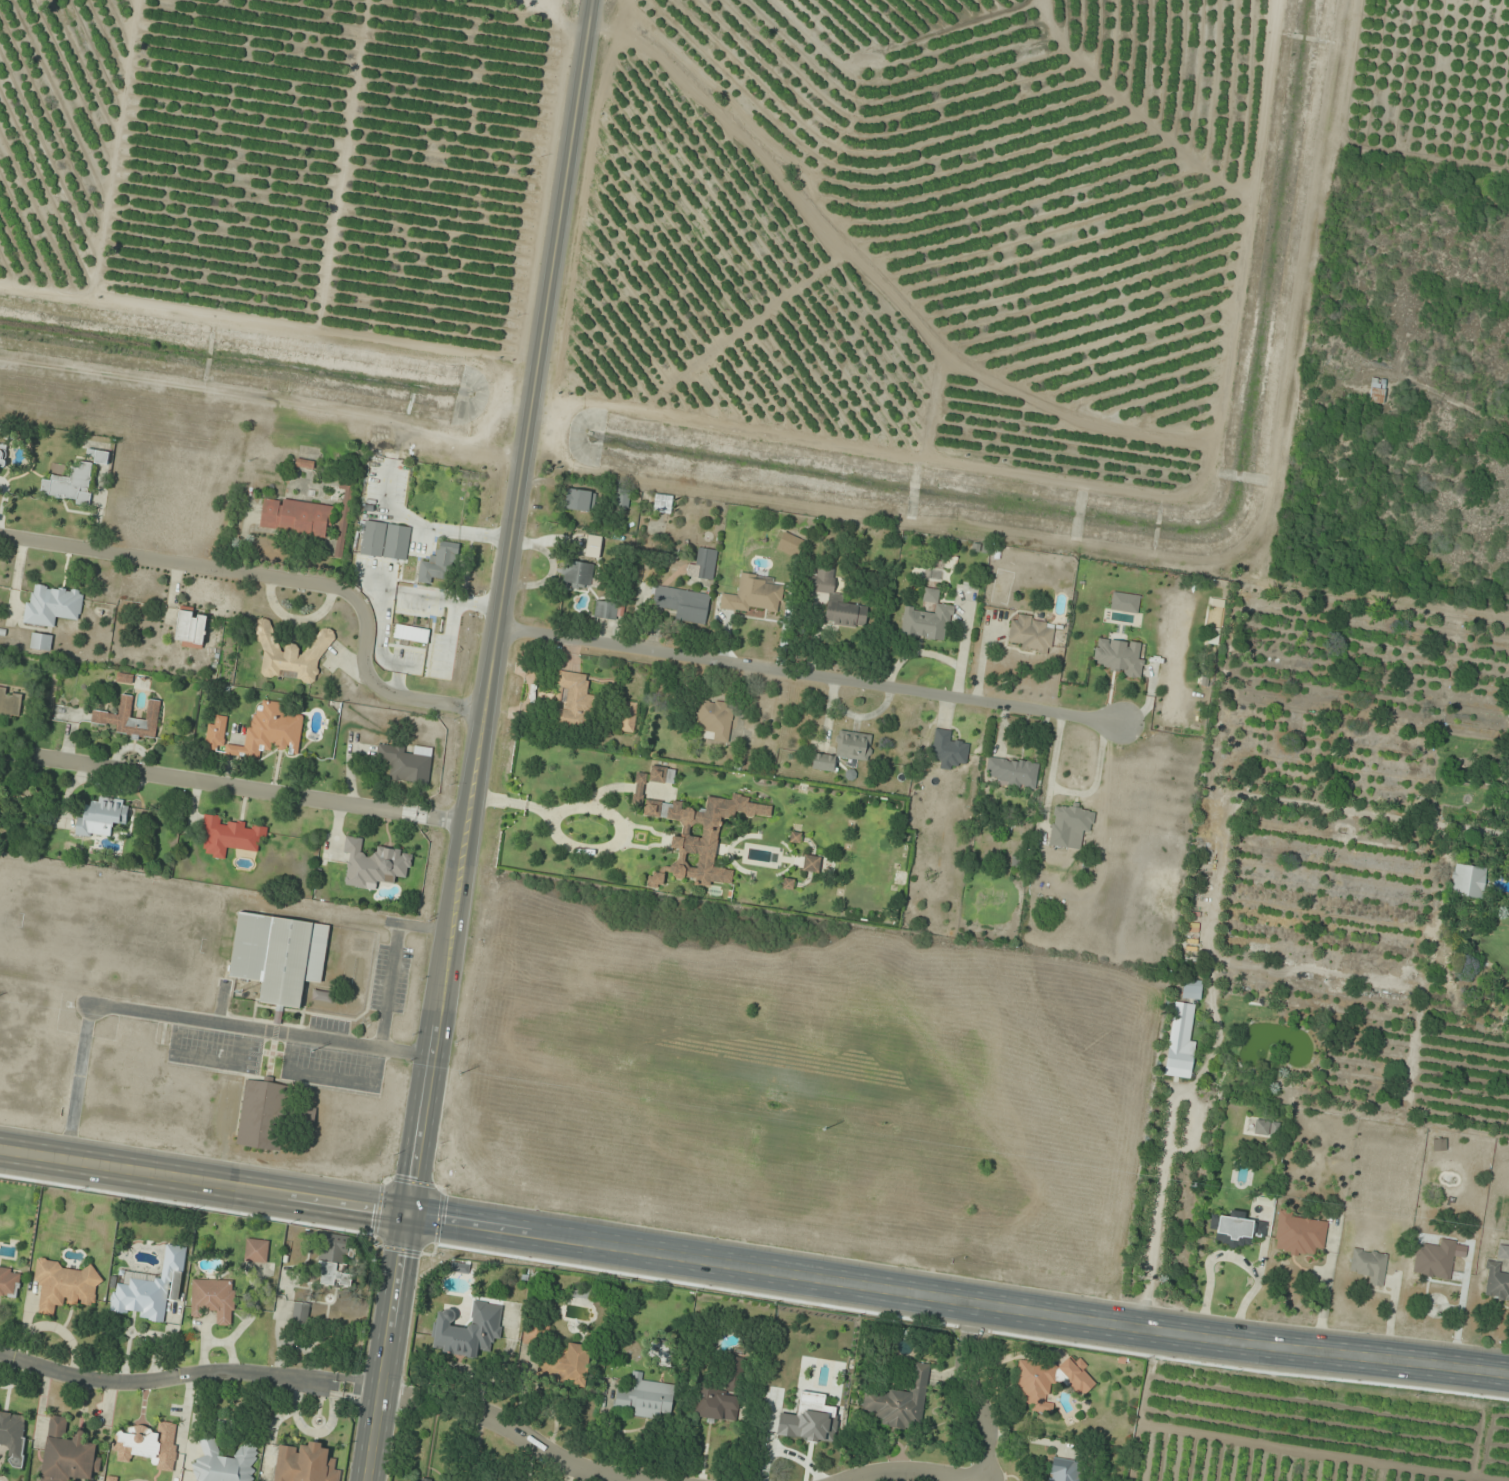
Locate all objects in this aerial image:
building: (1377, 390)
building: (3, 455)
building: (98, 456)
building: (71, 485)
building: (623, 498)
building: (580, 500)
building: (663, 504)
building: (296, 517)
building: (385, 540)
building: (440, 563)
building: (704, 564)
building: (578, 575)
road: (285, 578)
building: (822, 581)
building: (755, 595)
building: (683, 604)
building: (53, 606)
building: (608, 611)
building: (846, 614)
building: (928, 619)
building: (191, 628)
building: (411, 633)
building: (1031, 634)
building: (41, 642)
building: (292, 655)
building: (1121, 657)
road: (807, 676)
building: (10, 702)
building: (573, 702)
building: (628, 717)
building: (130, 719)
building: (715, 719)
building: (260, 732)
road: (482, 740)
building: (845, 750)
building: (949, 750)
building: (406, 762)
building: (1012, 772)
building: (662, 775)
building: (1508, 784)
road: (235, 789)
building: (102, 818)
building: (1069, 826)
building: (696, 835)
building: (230, 836)
building: (375, 864)
building: (811, 864)
building: (1468, 882)
building: (279, 955)
road: (393, 960)
building: (1191, 990)
road: (186, 1017)
building: (1180, 1043)
building: (262, 1115)
building: (1266, 1129)
road: (207, 1186)
building: (1263, 1202)
traffic signals: (415, 1220)
building: (1237, 1229)
building: (1299, 1235)
building: (256, 1251)
road: (1231, 1259)
building: (1434, 1260)
building: (333, 1261)
building: (1369, 1265)
building: (1495, 1281)
building: (9, 1282)
building: (64, 1286)
building: (150, 1288)
building: (214, 1299)
road: (961, 1299)
road: (1322, 1306)
building: (301, 1313)
building: (468, 1330)
building: (565, 1366)
building: (734, 1375)
road: (186, 1377)
building: (1046, 1381)
road: (971, 1391)
building: (643, 1398)
building: (714, 1402)
building: (901, 1402)
road: (509, 1426)
building: (13, 1436)
building: (148, 1445)
building: (67, 1454)
building: (224, 1463)
building: (305, 1464)
building: (1063, 1470)
road: (910, 1473)
building: (111, 1479)
building: (398, 1480)

